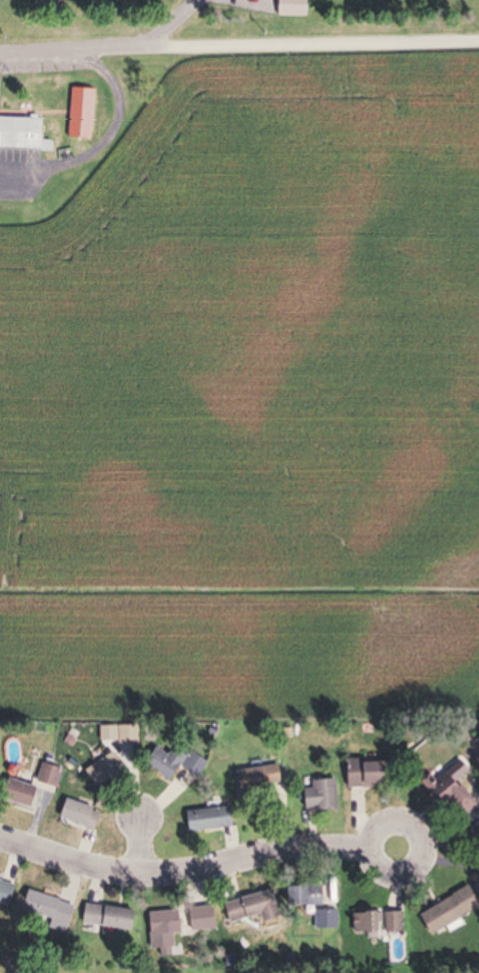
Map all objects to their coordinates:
building: (289, 8)
road: (239, 41)
building: (79, 114)
building: (21, 135)
crop: (251, 401)
building: (172, 763)
building: (102, 770)
building: (363, 775)
building: (46, 777)
building: (257, 779)
building: (451, 790)
building: (17, 794)
building: (319, 797)
building: (78, 815)
building: (207, 820)
road: (380, 825)
road: (136, 848)
road: (183, 874)
building: (5, 893)
building: (302, 897)
building: (250, 908)
building: (47, 911)
building: (446, 912)
building: (105, 918)
building: (199, 919)
building: (326, 919)
building: (392, 922)
building: (366, 923)
building: (161, 930)

